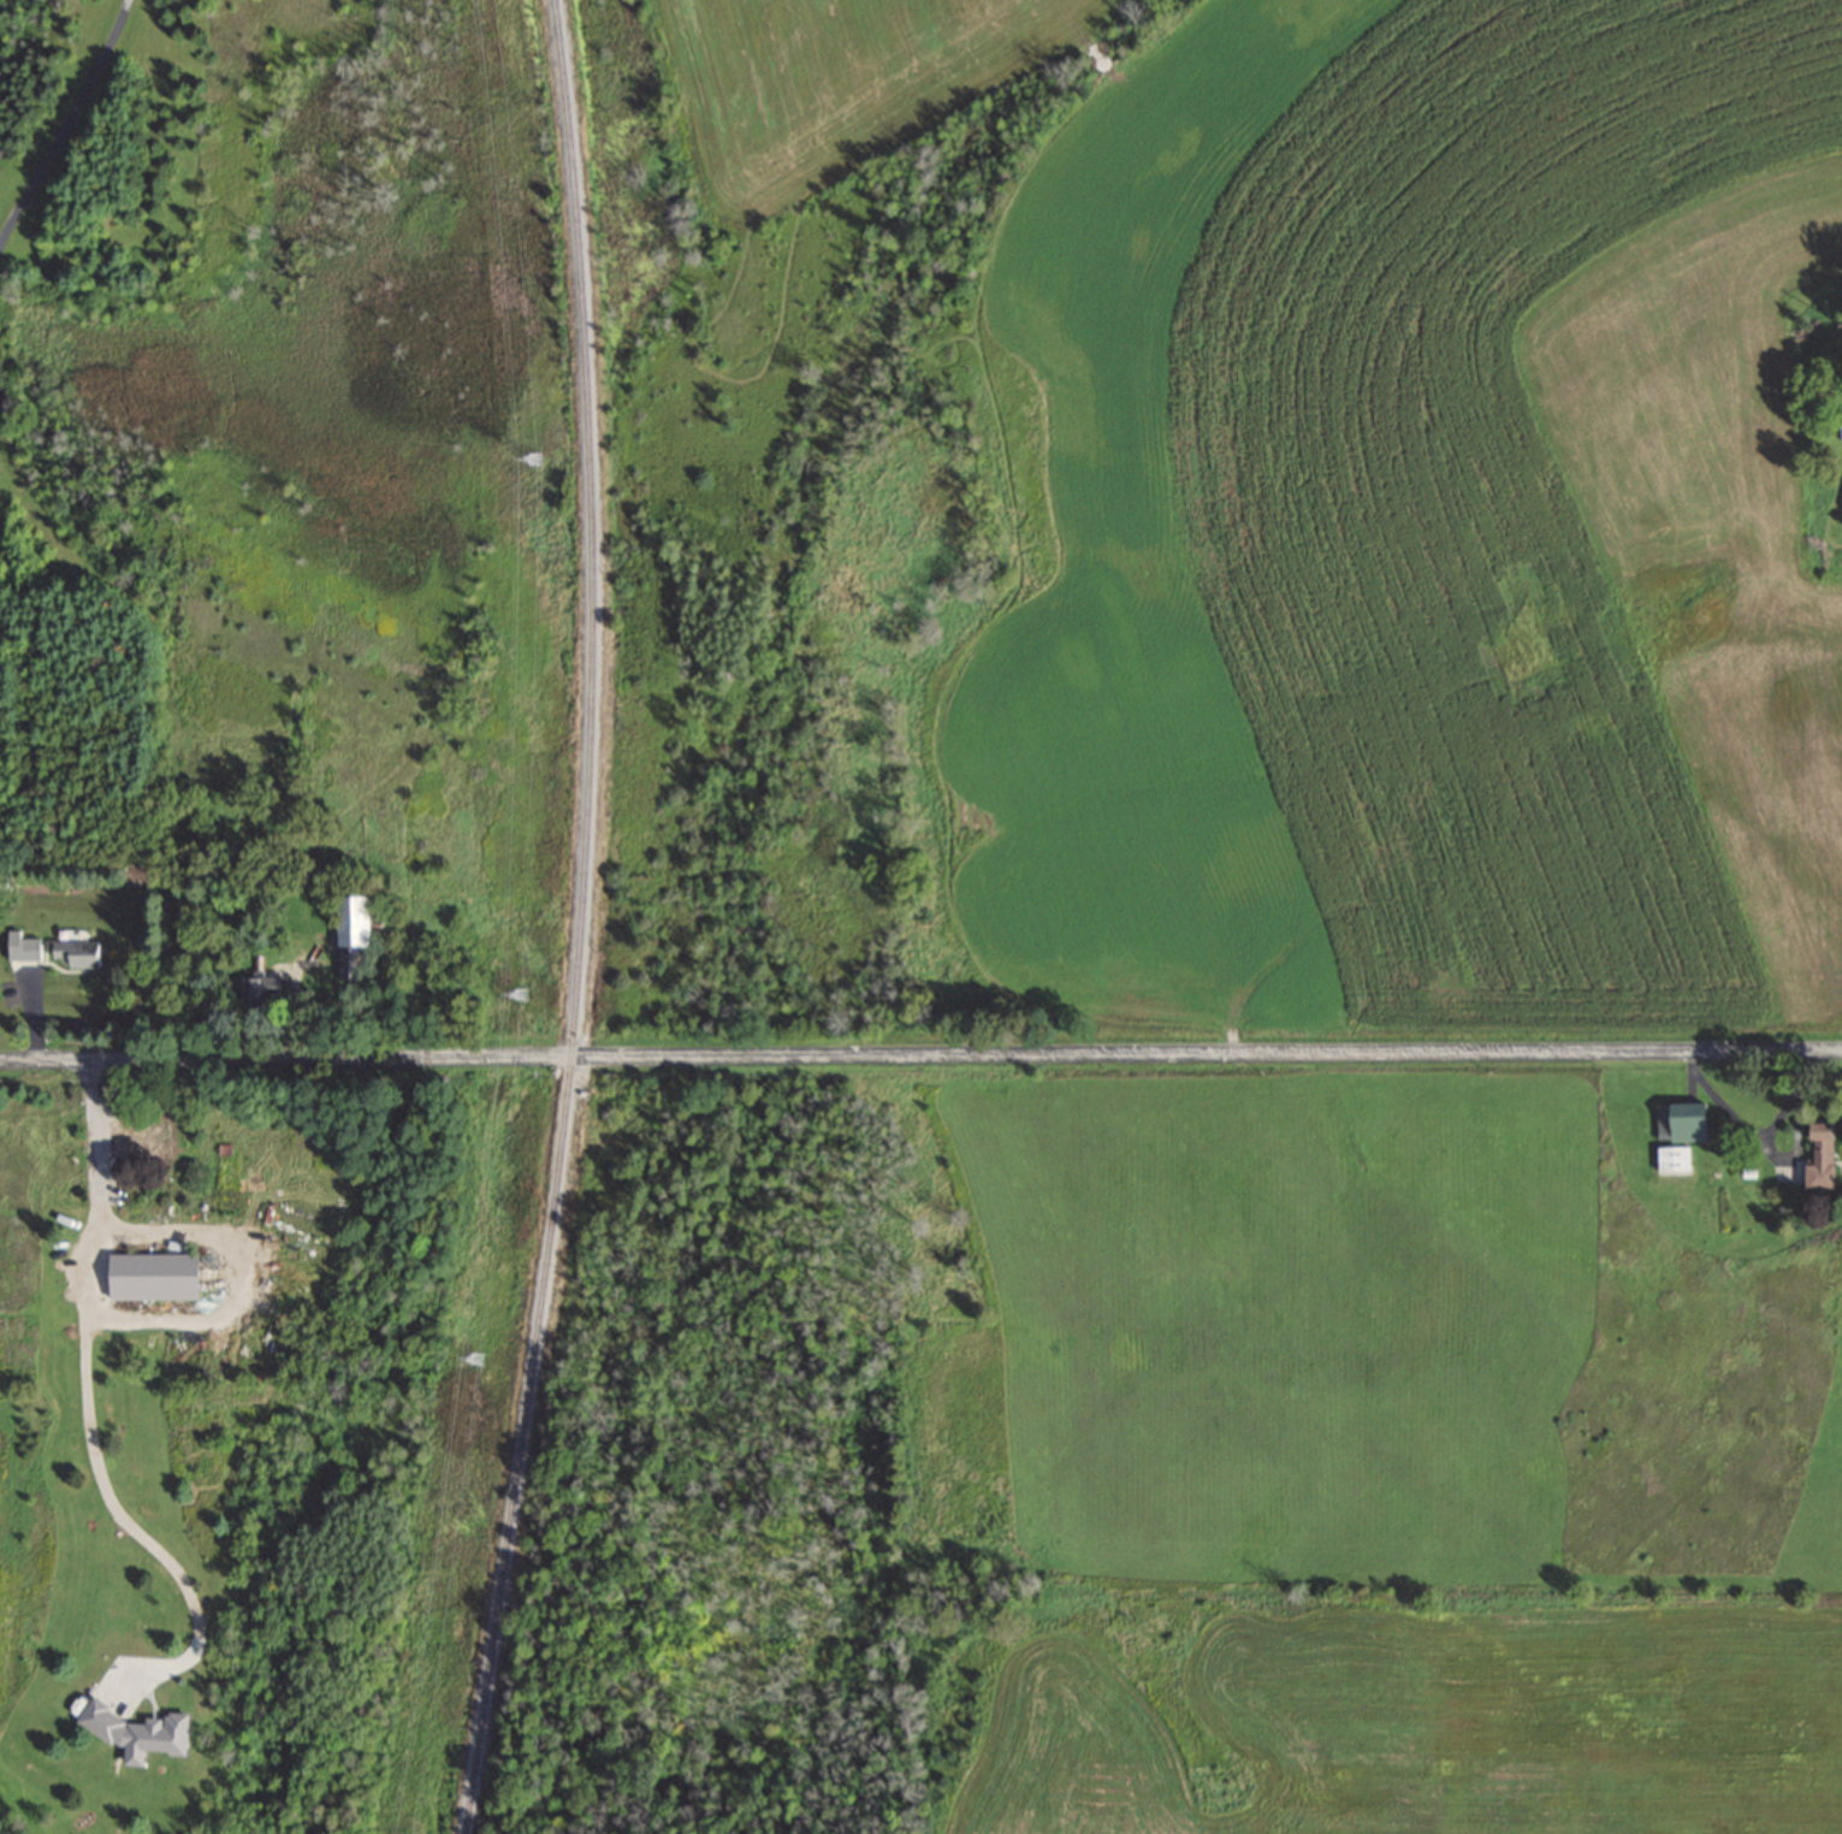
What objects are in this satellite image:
building: (1840, 422)
building: (4, 877)
railway: (582, 919)
building: (365, 933)
building: (31, 947)
building: (82, 952)
building: (271, 988)
road: (920, 1053)
building: (1680, 1122)
building: (148, 1137)
building: (1670, 1158)
building: (1810, 1159)
building: (162, 1274)
road: (88, 1418)

